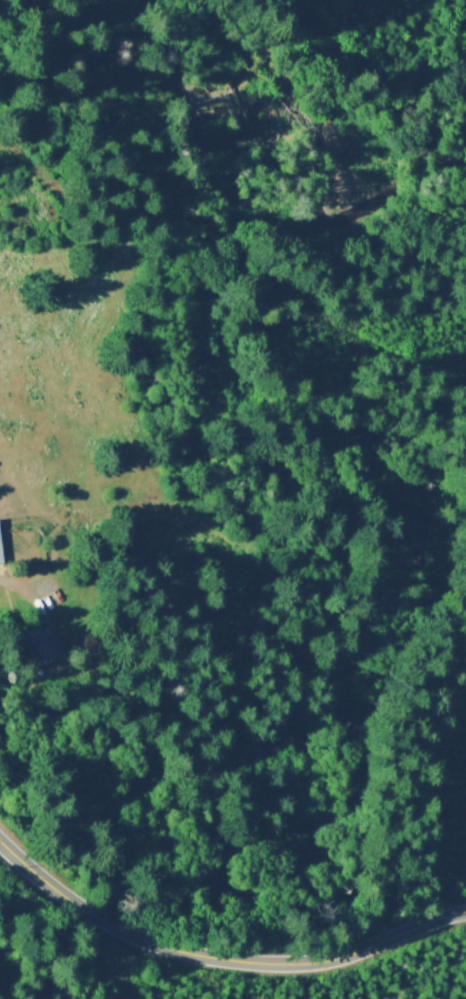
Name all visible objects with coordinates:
river: (289, 140)
road: (417, 369)
building: (1, 549)
building: (42, 642)
road: (220, 957)

